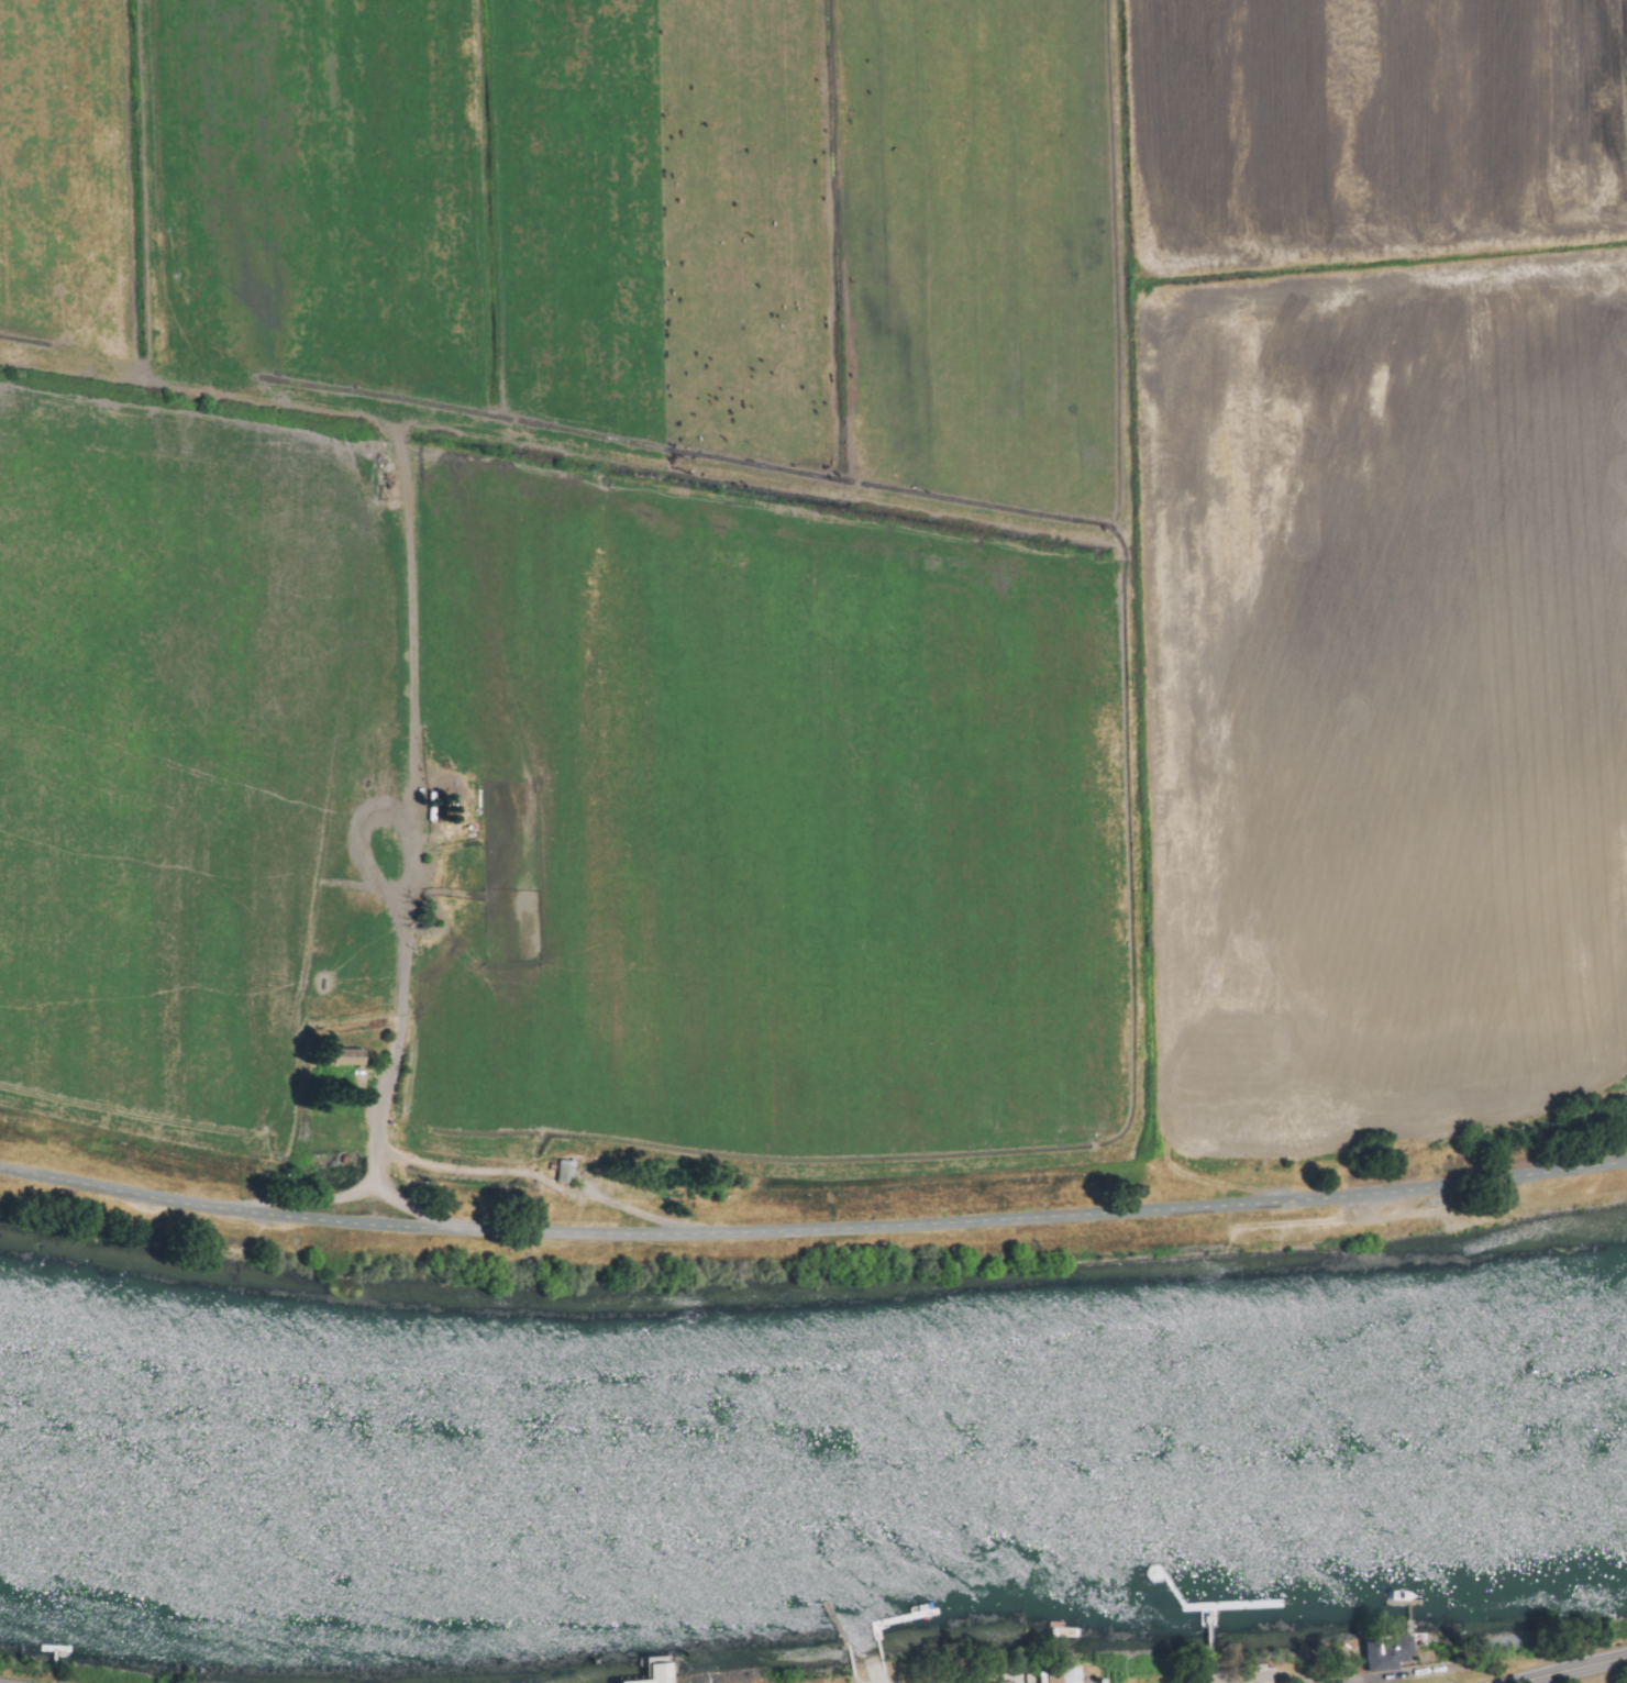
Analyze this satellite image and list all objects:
crop: (813, 580)
road: (409, 908)
building: (351, 1058)
road: (475, 1171)
building: (565, 1172)
road: (633, 1211)
road: (812, 1230)
river: (815, 1468)
pier: (1165, 1585)
pier: (1228, 1603)
pier: (1205, 1643)
building: (1391, 1653)
road: (1574, 1669)
park: (1247, 1670)
building: (658, 1671)
building: (1268, 1674)
building: (1072, 1675)
road: (1343, 1678)
building: (999, 1680)
building: (949, 1681)
road: (1232, 1681)
road: (1243, 1681)

